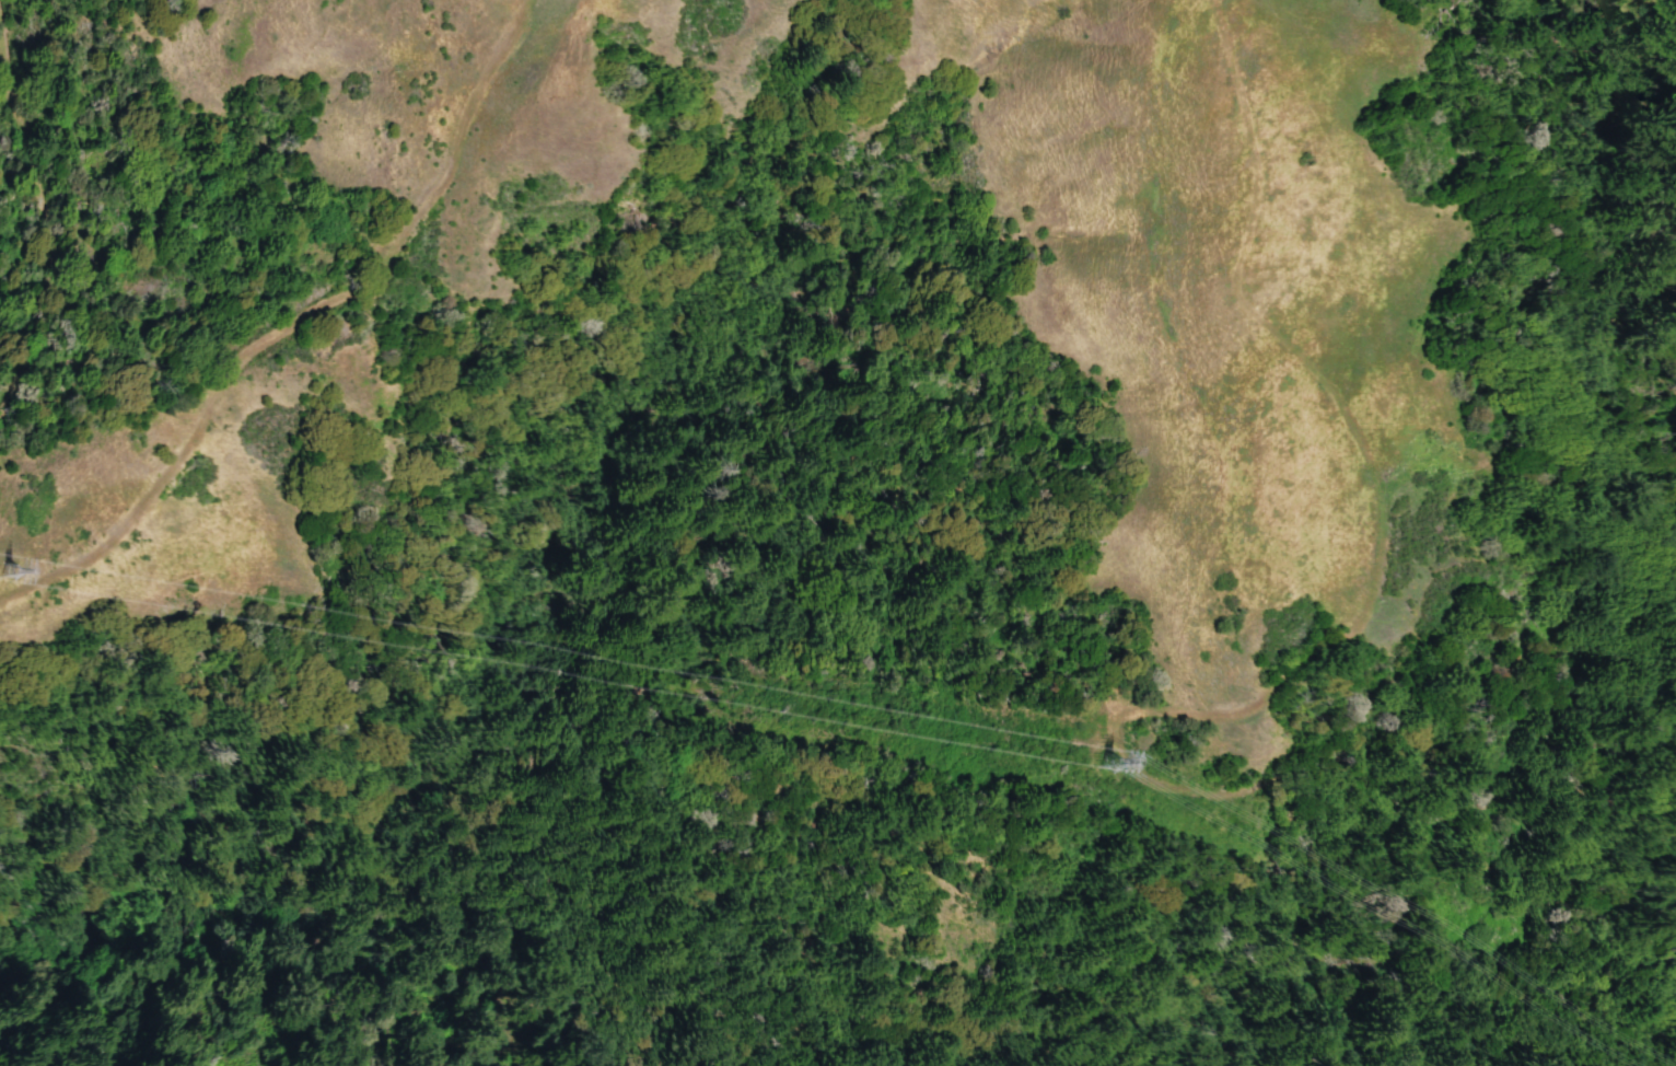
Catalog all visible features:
power tower: (10, 571)
power tower: (1108, 764)

